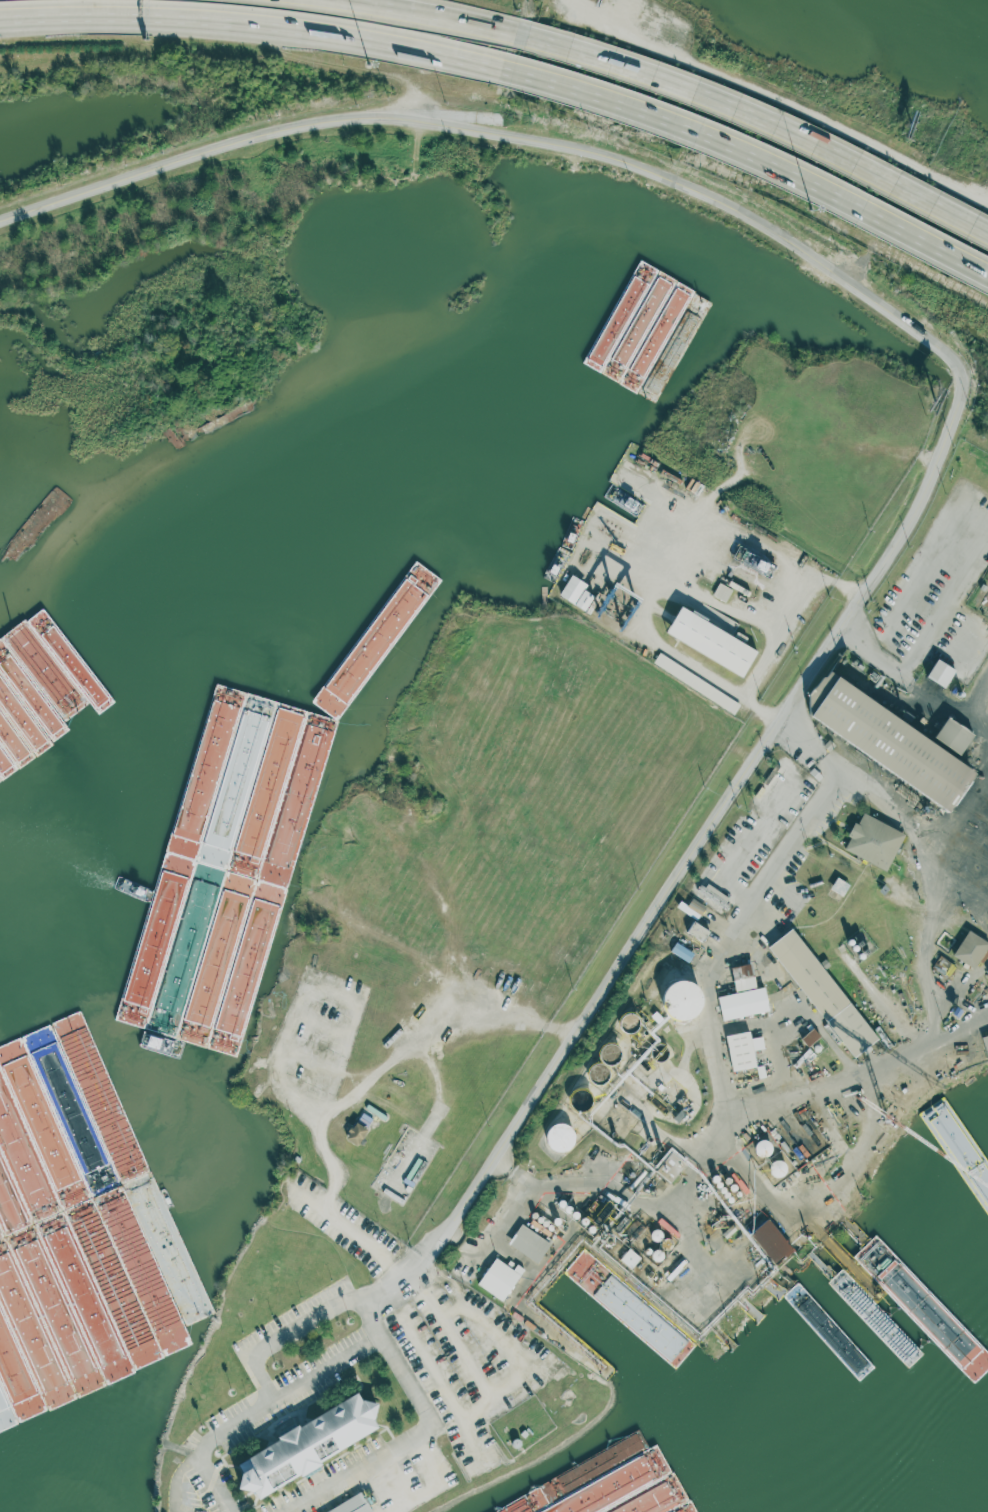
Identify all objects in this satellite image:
road: (428, 14)
road: (253, 20)
road: (757, 120)
road: (751, 158)
road: (955, 423)
building: (635, 467)
building: (672, 476)
road: (745, 523)
building: (33, 528)
road: (985, 528)
building: (576, 592)
building: (711, 641)
building: (940, 673)
road: (914, 676)
building: (696, 682)
road: (761, 700)
building: (953, 736)
building: (888, 741)
building: (873, 841)
road: (745, 843)
building: (840, 886)
building: (714, 896)
building: (692, 908)
building: (698, 931)
building: (971, 949)
building: (682, 952)
building: (944, 966)
building: (823, 992)
building: (743, 995)
road: (303, 996)
building: (682, 1000)
building: (810, 1037)
building: (986, 1043)
road: (732, 1048)
building: (743, 1049)
road: (867, 1075)
road: (356, 1092)
building: (356, 1134)
building: (561, 1137)
building: (965, 1140)
road: (588, 1180)
road: (771, 1193)
road: (503, 1226)
building: (771, 1241)
building: (529, 1243)
building: (630, 1258)
building: (500, 1278)
road: (304, 1330)
road: (270, 1404)
road: (408, 1442)
building: (307, 1445)
road: (196, 1476)
building: (354, 1506)

